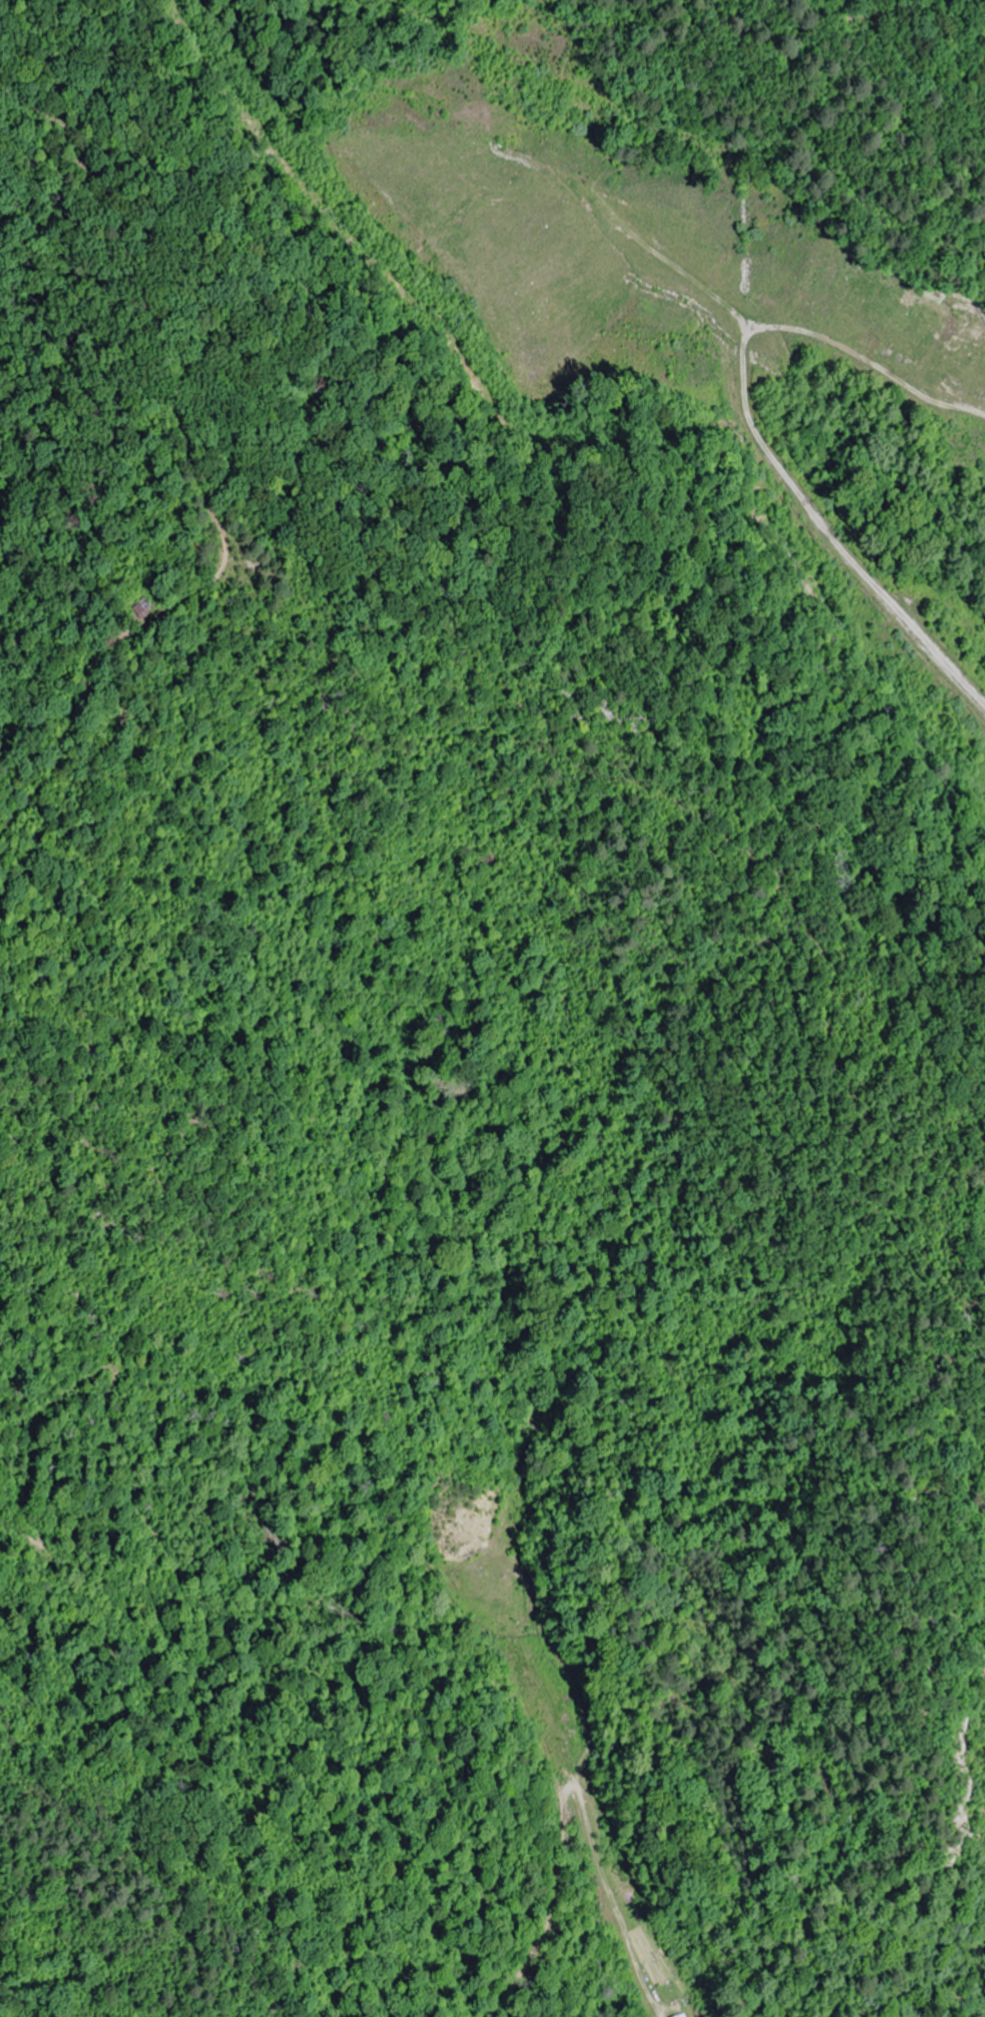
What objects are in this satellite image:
building: (143, 606)
building: (680, 2016)

